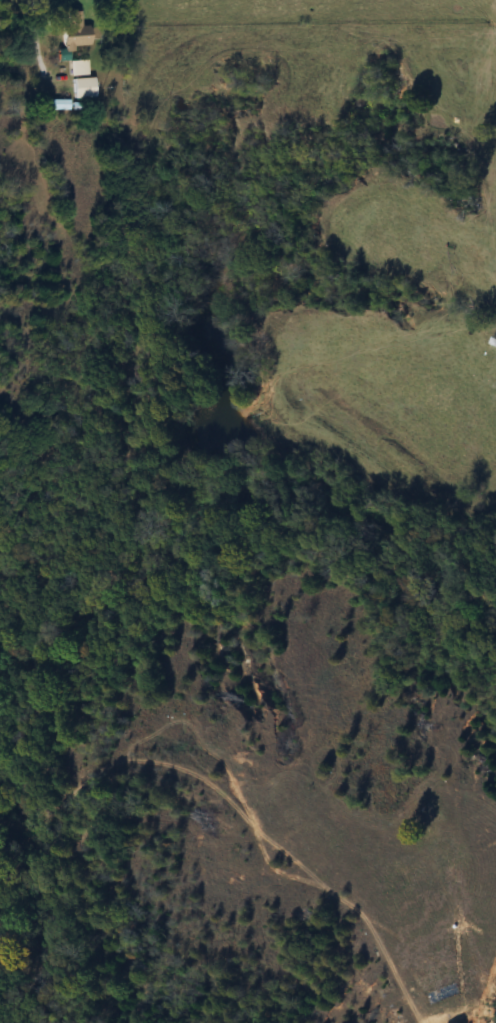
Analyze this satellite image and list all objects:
building: (71, 33)
building: (76, 68)
building: (80, 88)

